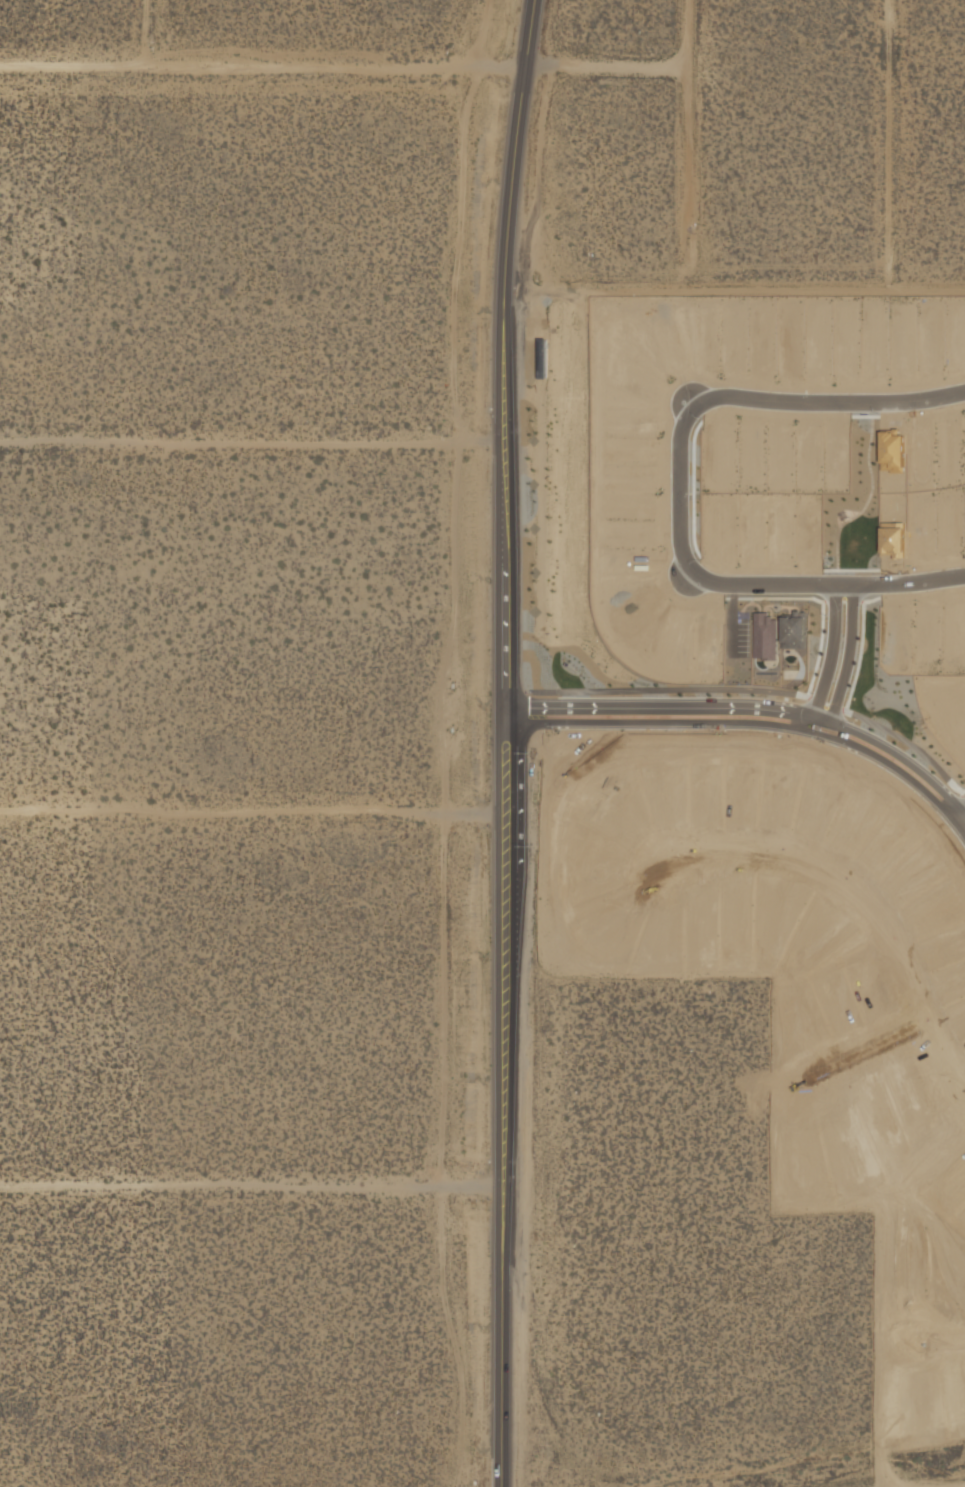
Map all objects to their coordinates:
road: (688, 28)
road: (268, 71)
road: (899, 145)
road: (739, 290)
road: (828, 406)
road: (877, 420)
road: (256, 441)
building: (964, 444)
building: (890, 450)
road: (679, 492)
road: (693, 494)
road: (867, 503)
park: (853, 510)
building: (841, 518)
building: (892, 542)
road: (849, 574)
road: (826, 588)
road: (800, 603)
road: (731, 623)
building: (793, 632)
building: (925, 634)
parking lot: (737, 639)
building: (764, 639)
road: (819, 653)
road: (859, 660)
road: (830, 663)
road: (846, 665)
road: (667, 693)
road: (826, 706)
road: (754, 712)
road: (756, 727)
road: (510, 742)
road: (909, 746)
road: (962, 796)
road: (962, 800)
road: (255, 813)
road: (958, 818)
building: (852, 828)
building: (913, 881)
road: (865, 906)
building: (933, 914)
building: (958, 1020)
road: (862, 1053)
road: (253, 1186)
road: (943, 1340)

